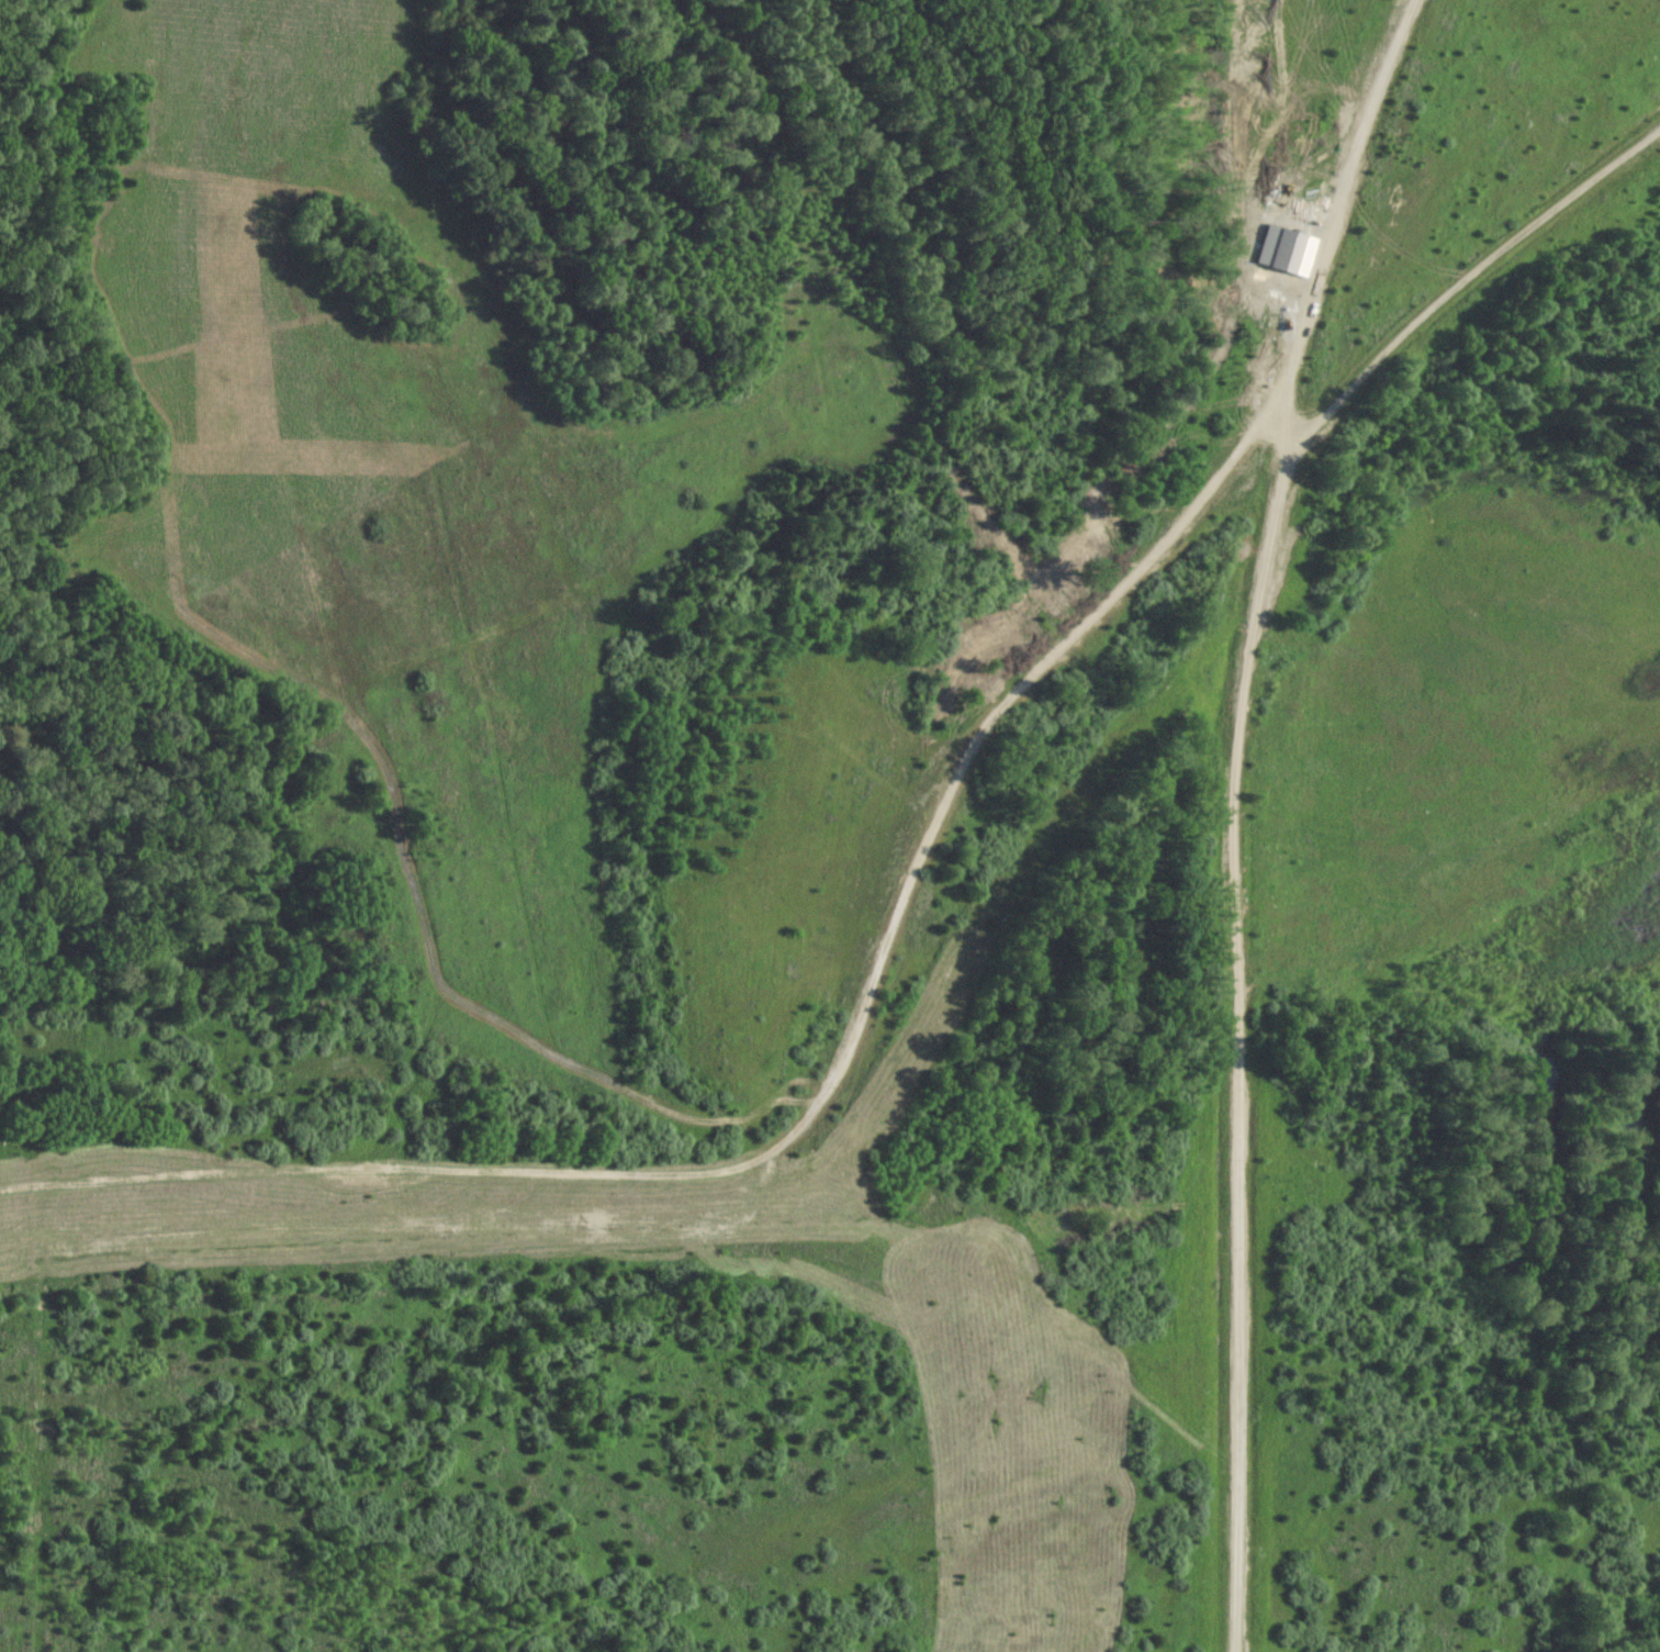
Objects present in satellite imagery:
road: (1446, 294)
road: (1258, 811)

